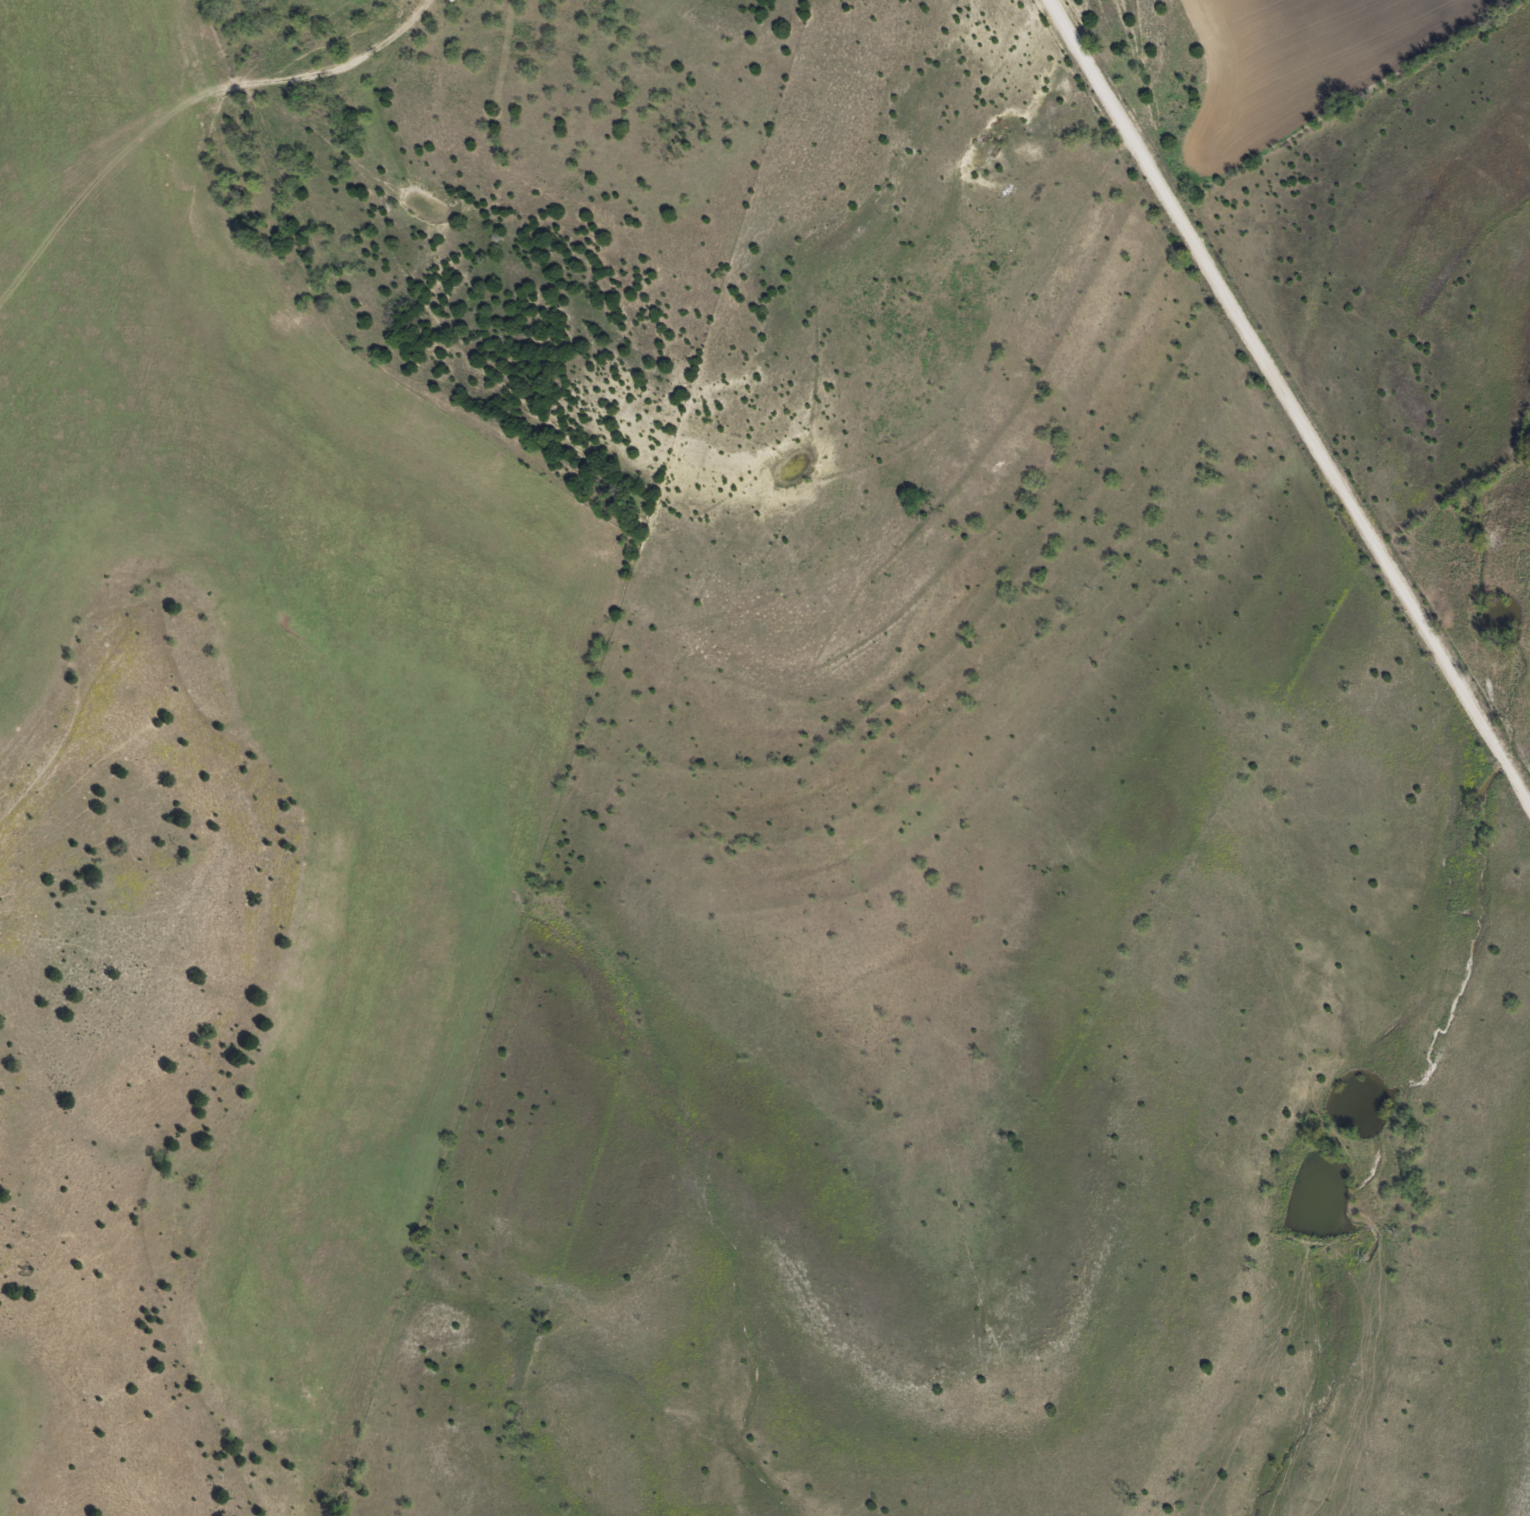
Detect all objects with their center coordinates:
road: (1286, 410)

